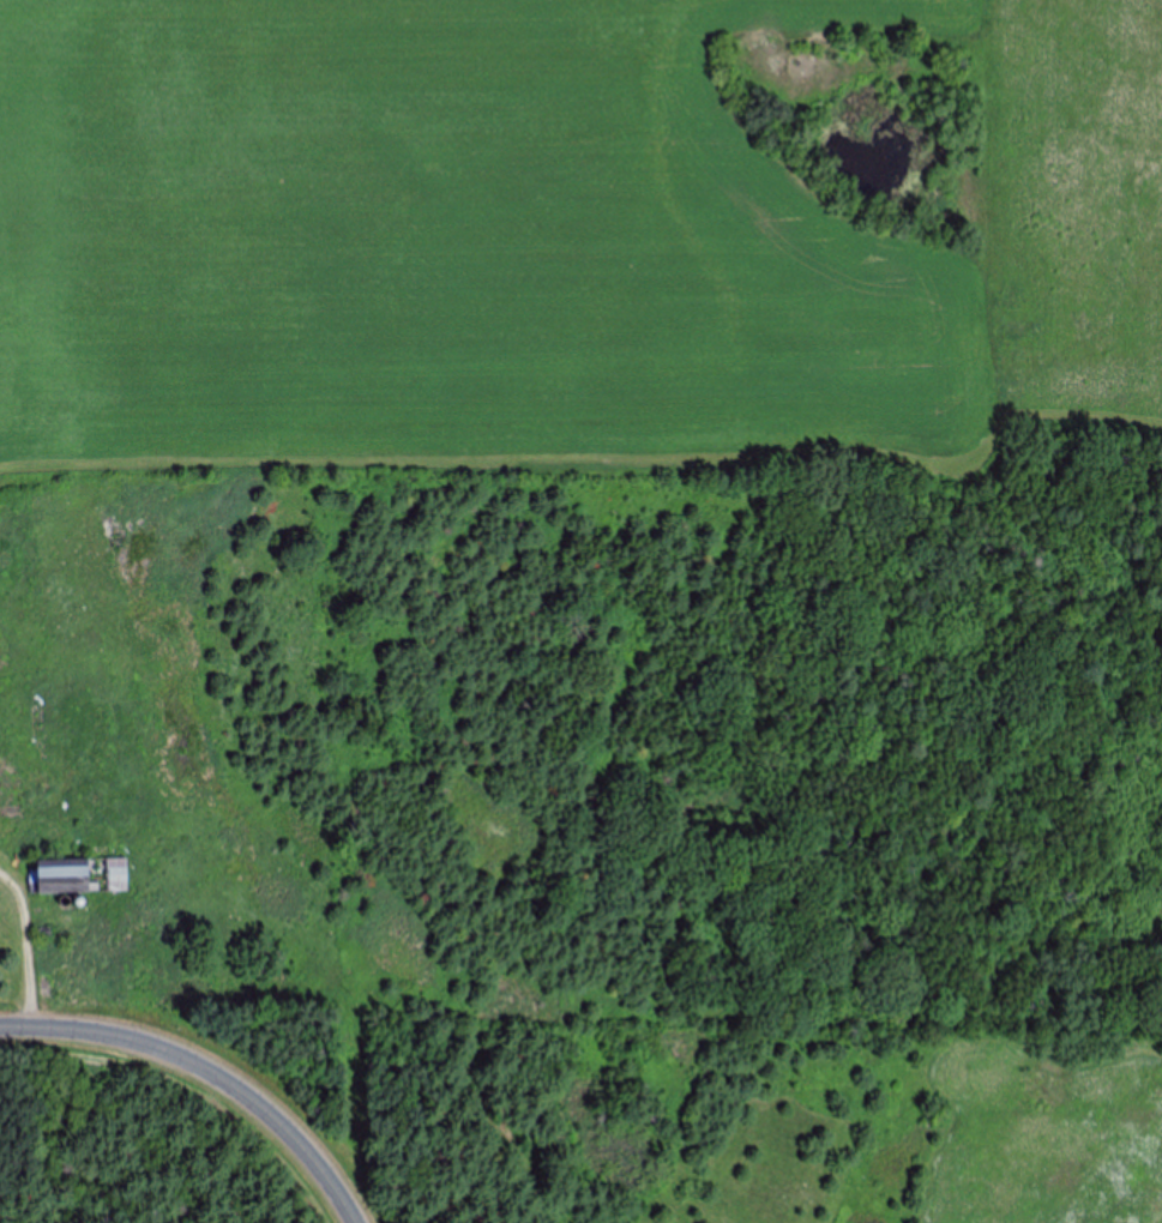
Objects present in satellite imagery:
building: (82, 875)
road: (205, 1071)

